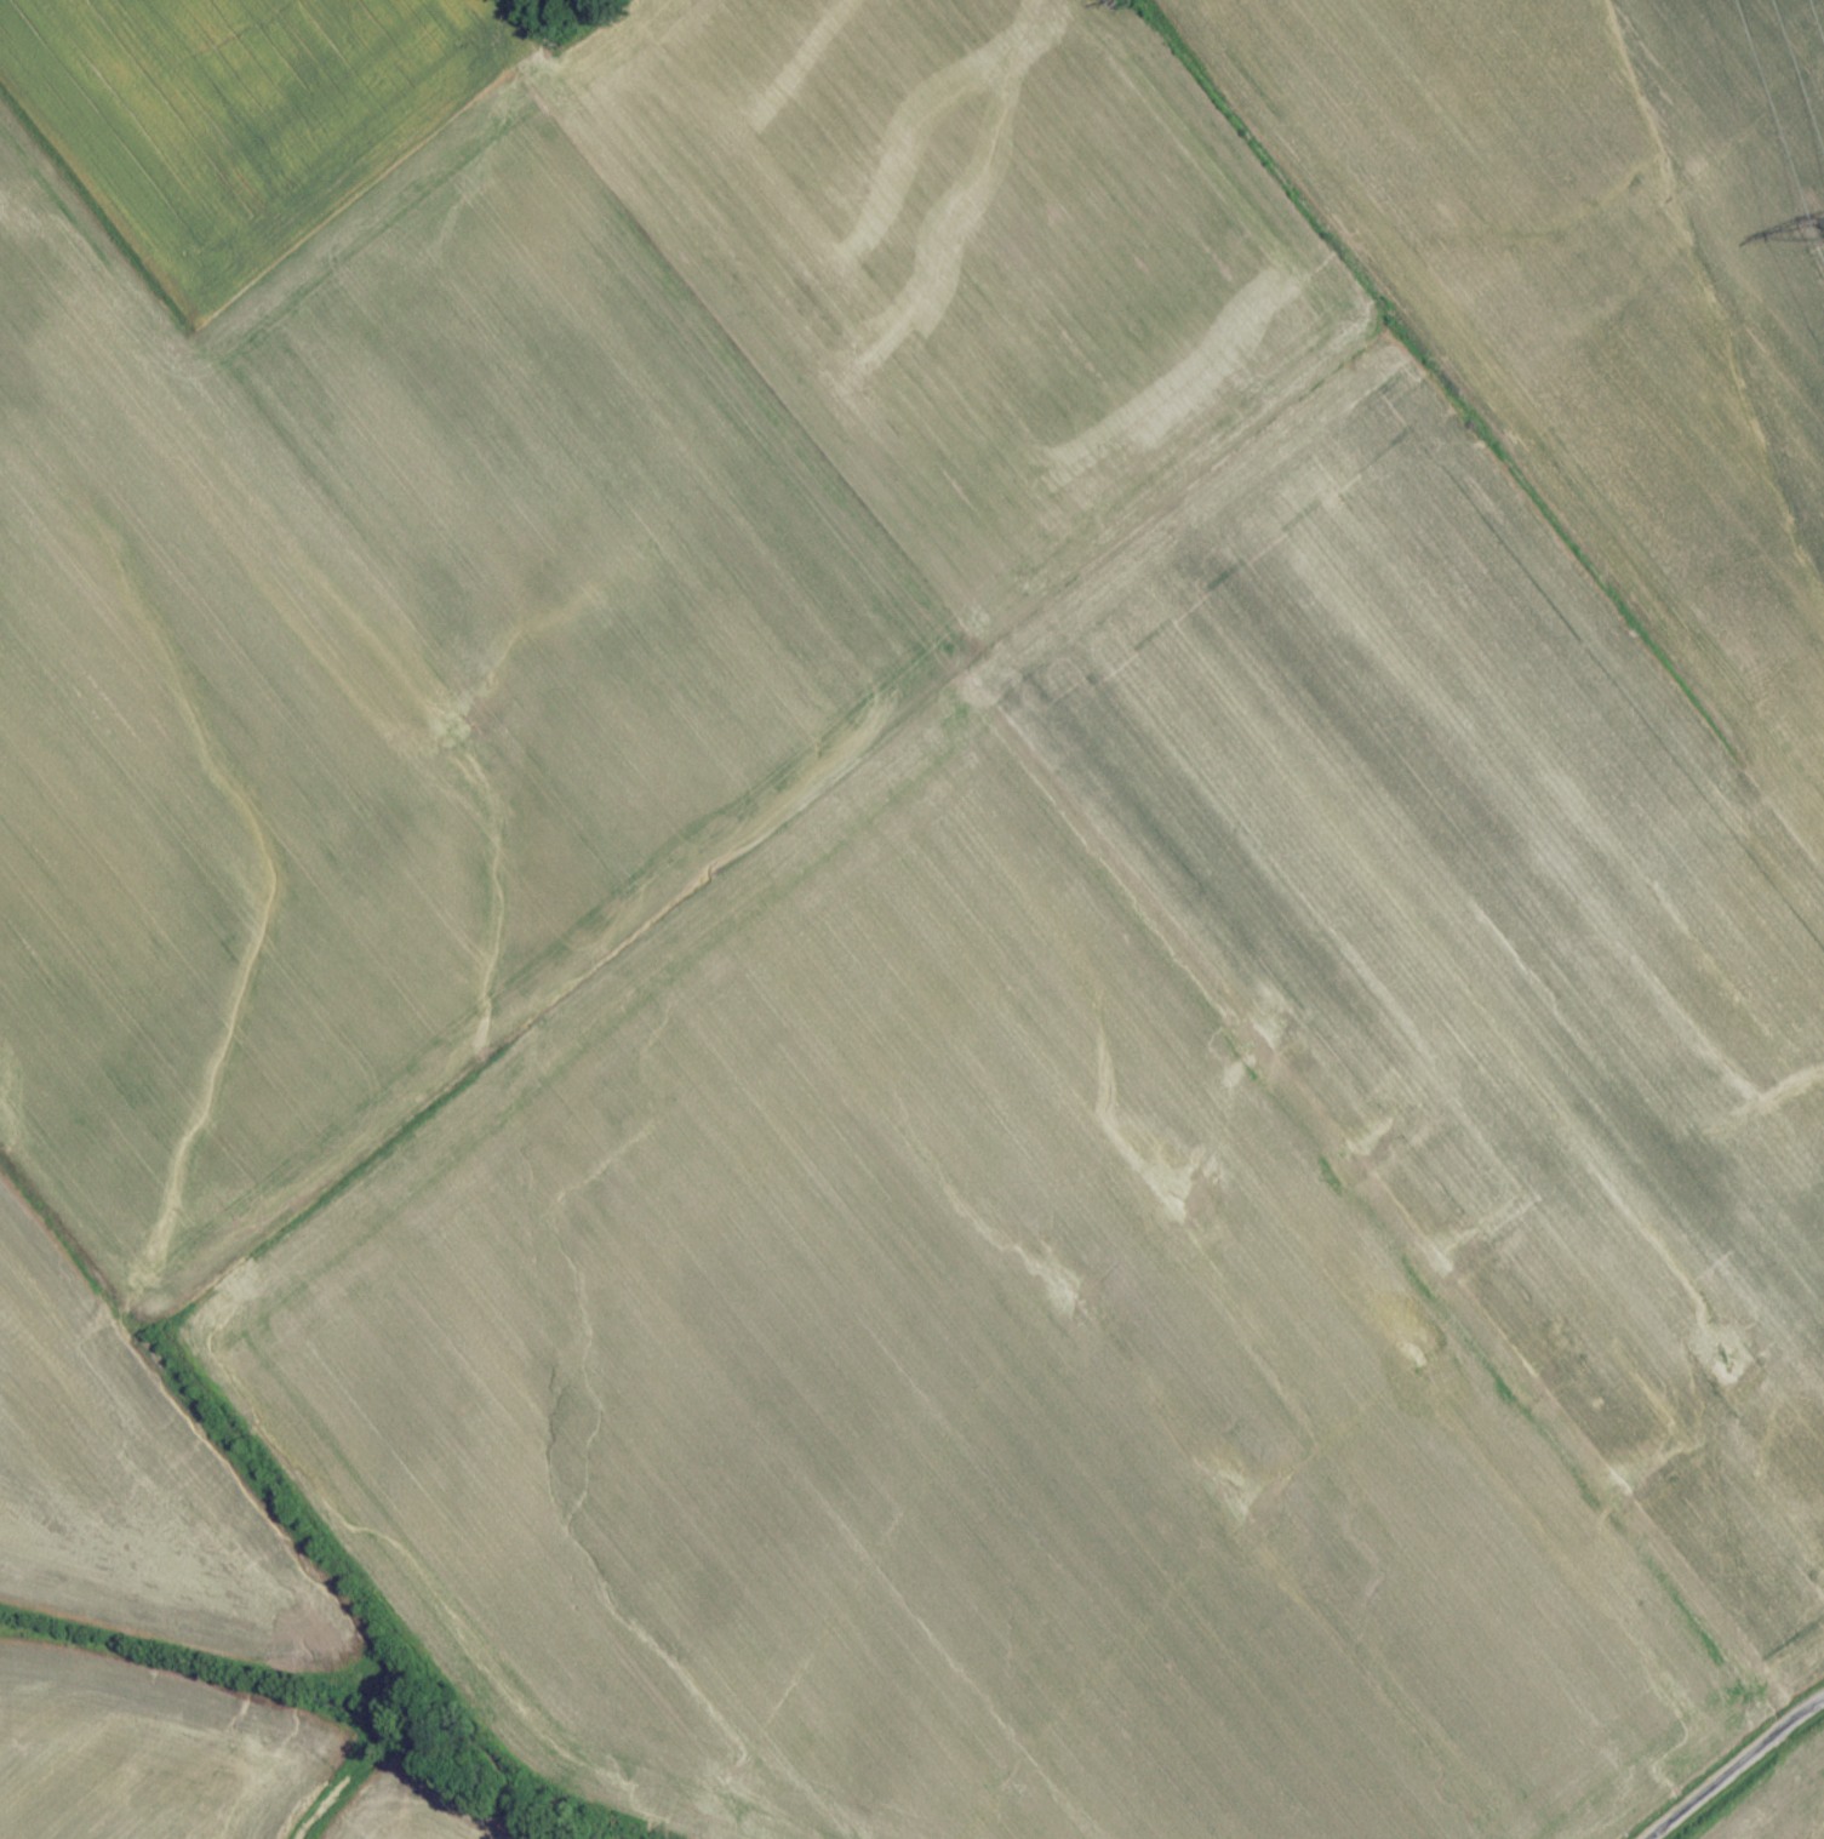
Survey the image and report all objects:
road: (1737, 1770)

